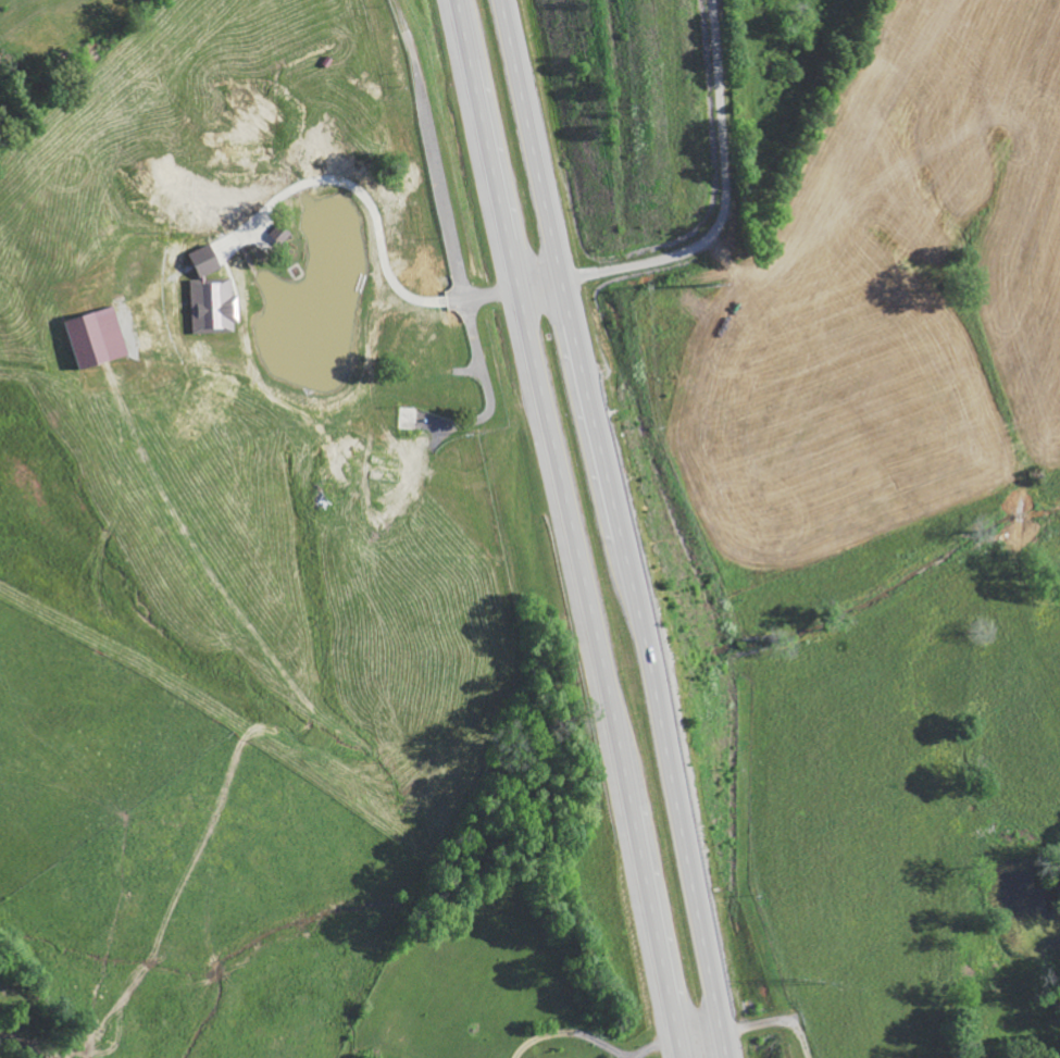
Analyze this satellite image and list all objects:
building: (284, 232)
building: (208, 259)
road: (638, 259)
building: (216, 304)
building: (411, 418)
building: (389, 474)
road: (569, 528)
road: (614, 528)
road: (699, 1030)

